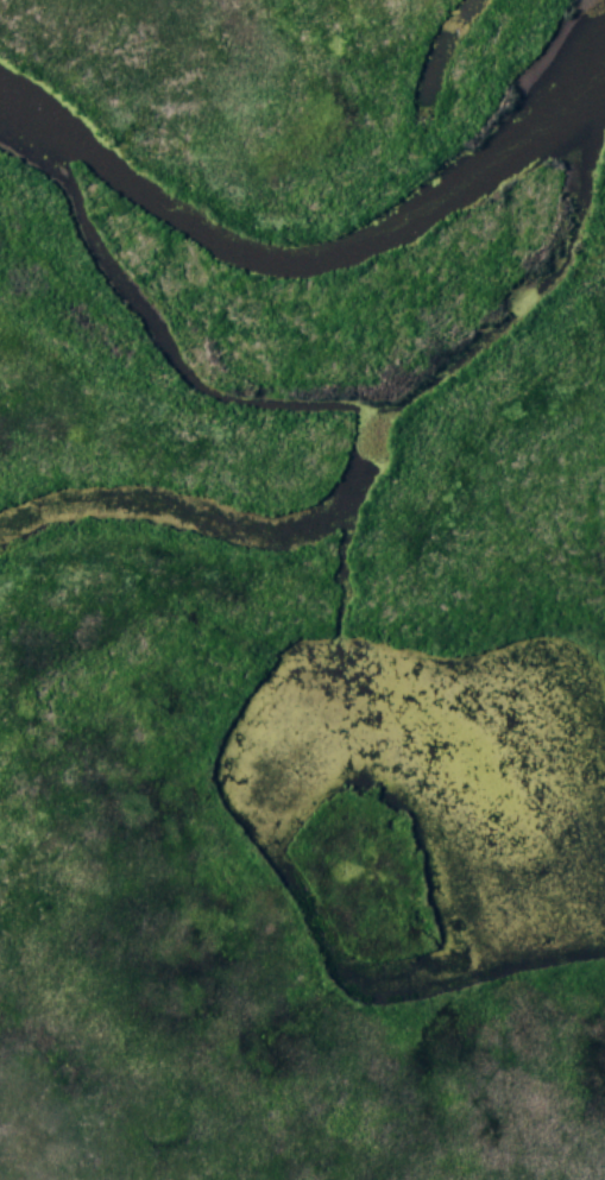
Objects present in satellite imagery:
river: (523, 235)
river: (159, 345)

